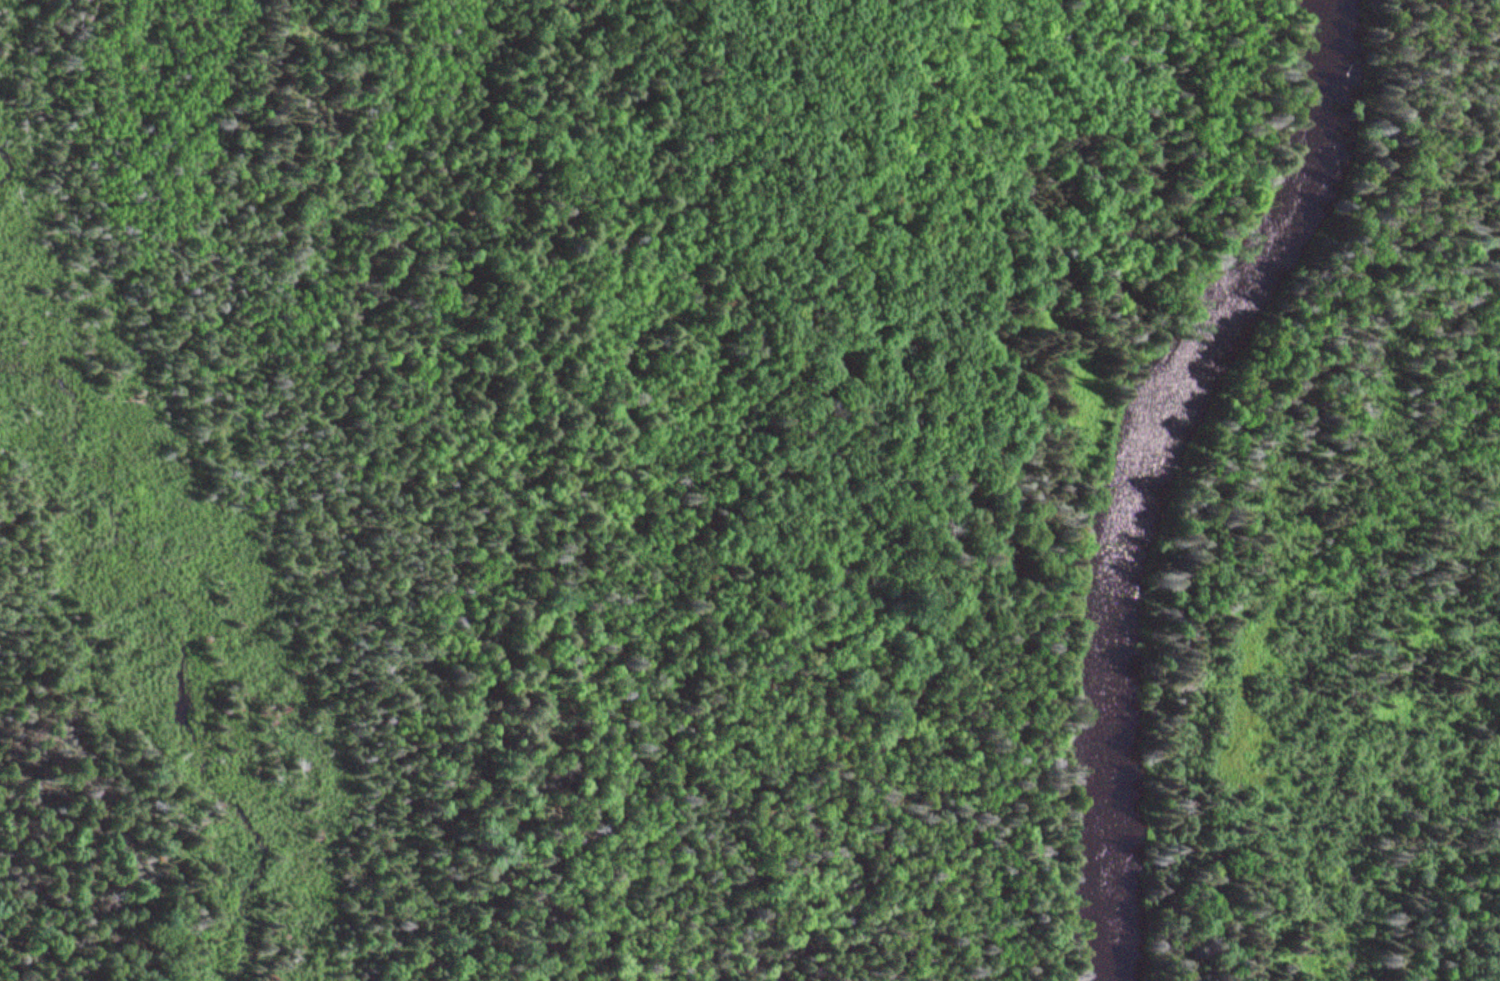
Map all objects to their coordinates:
river: (1183, 411)
river: (1120, 918)

